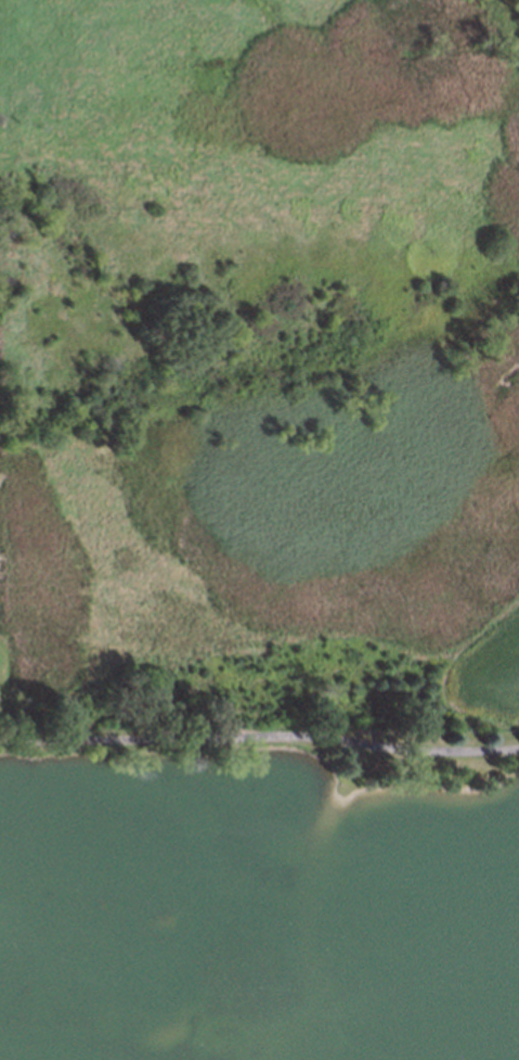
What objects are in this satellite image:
road: (259, 733)

